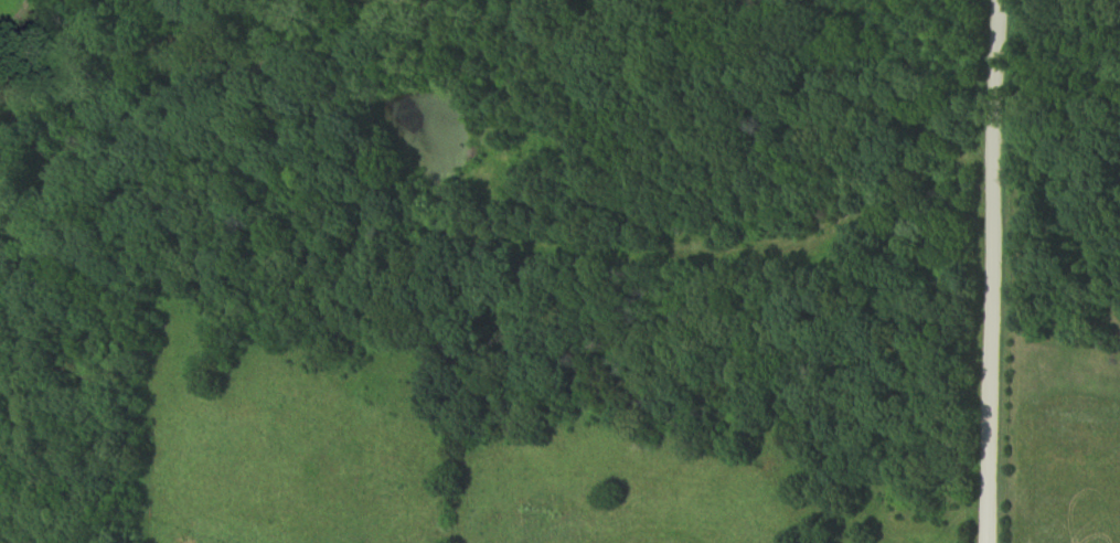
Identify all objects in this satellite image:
road: (995, 270)

